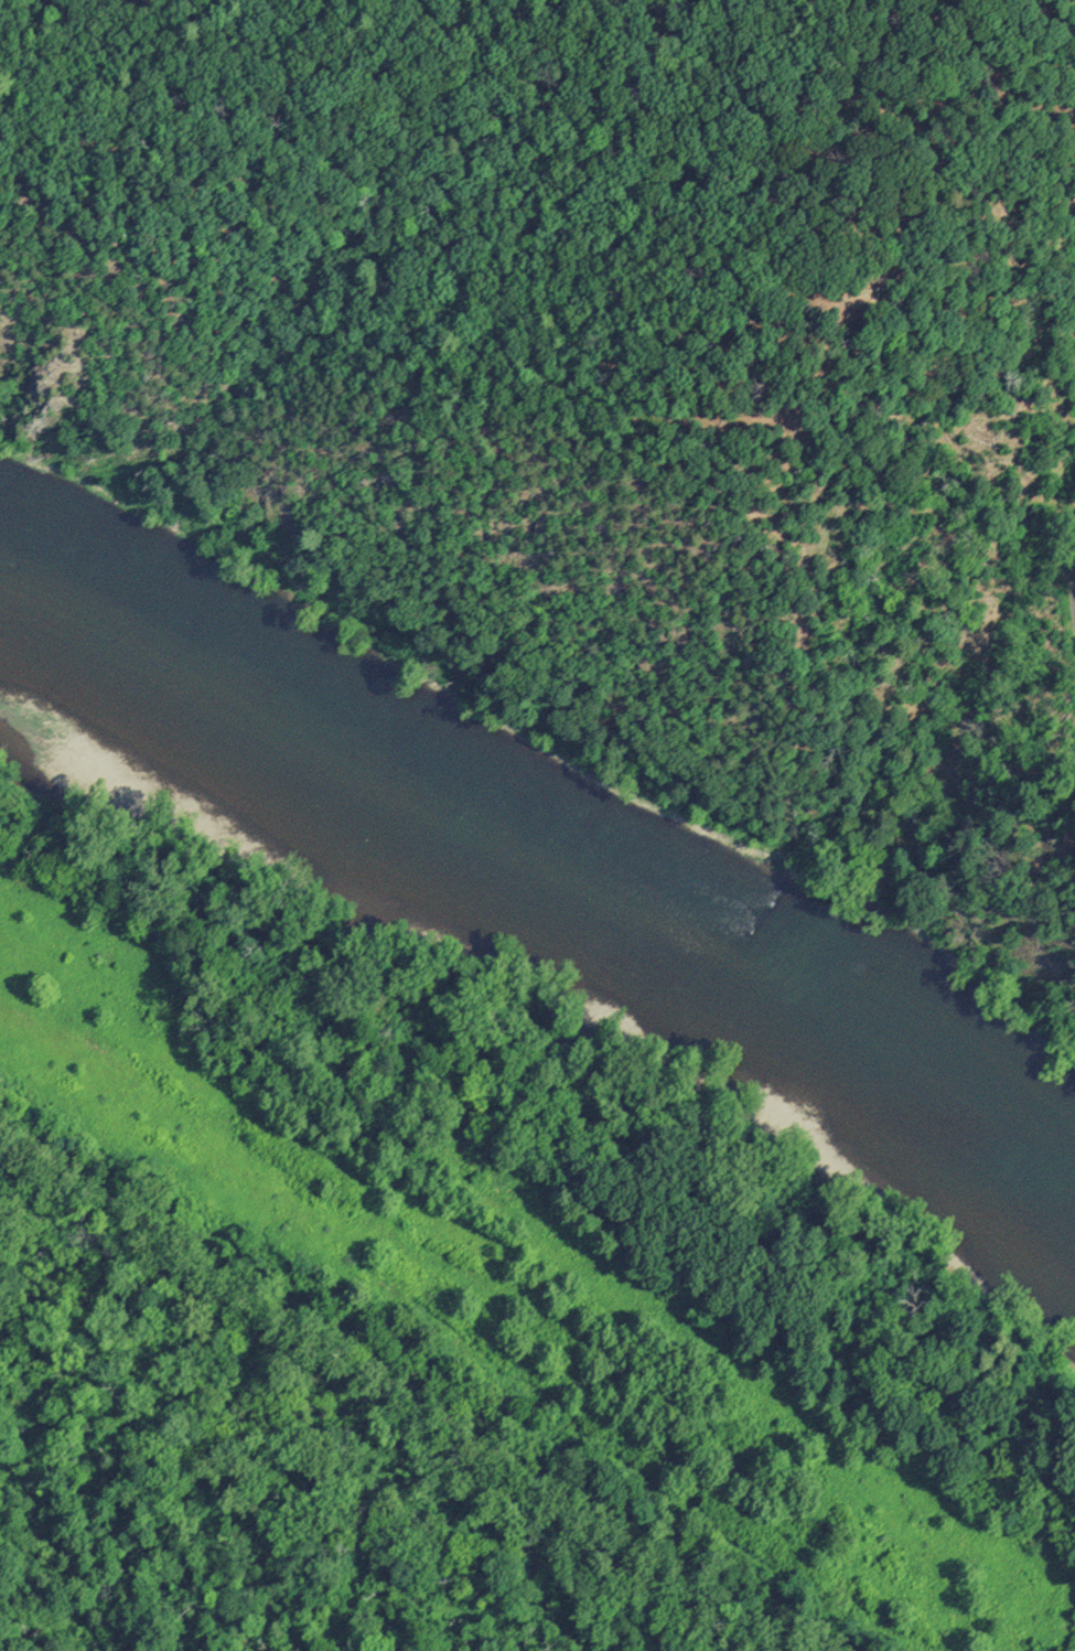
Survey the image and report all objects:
road: (1073, 581)
river: (555, 872)
road: (404, 1390)

